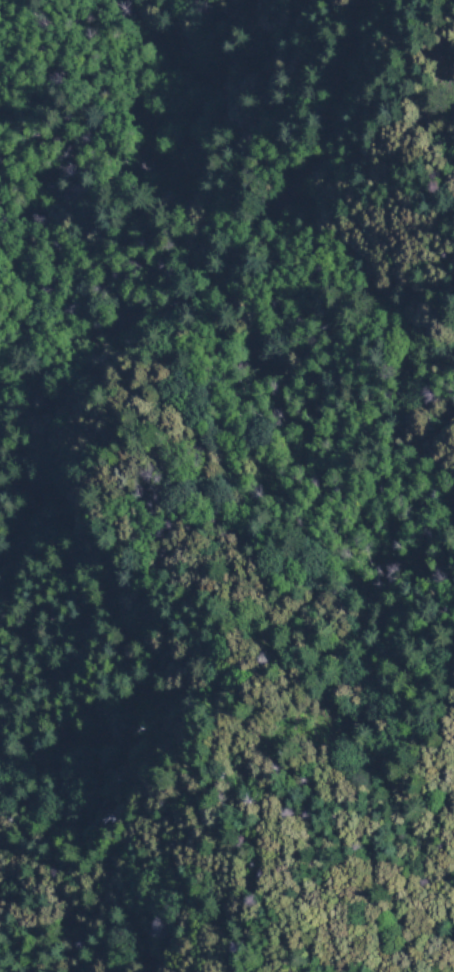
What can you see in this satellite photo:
road: (272, 300)

